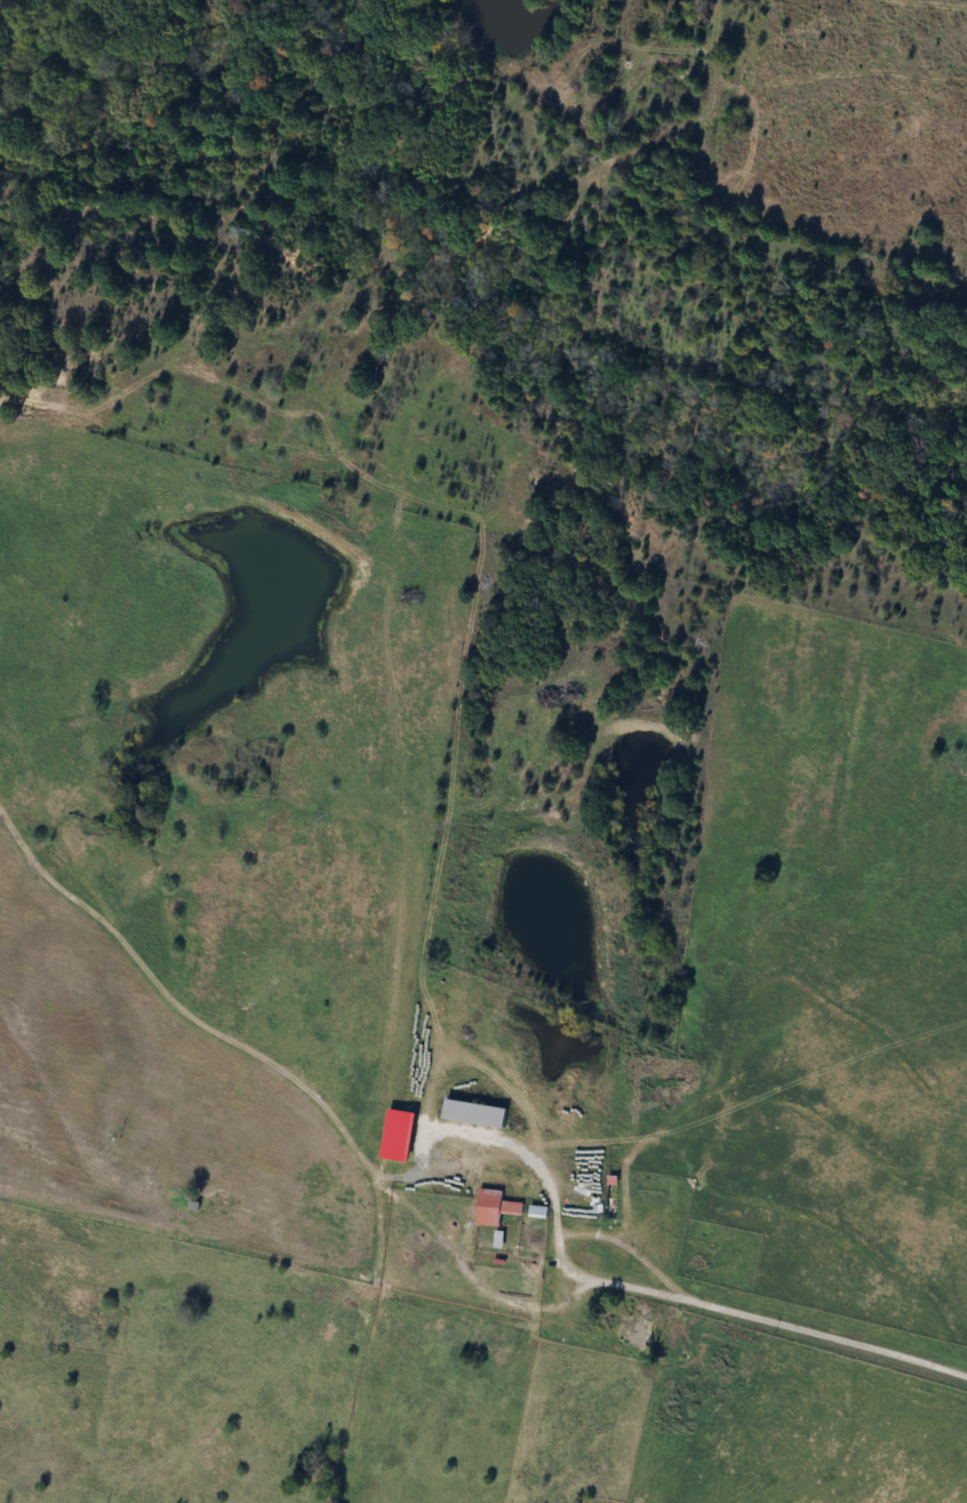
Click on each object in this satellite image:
building: (478, 1114)
building: (612, 1197)
building: (496, 1208)
building: (540, 1212)
road: (559, 1240)
road: (828, 1335)

